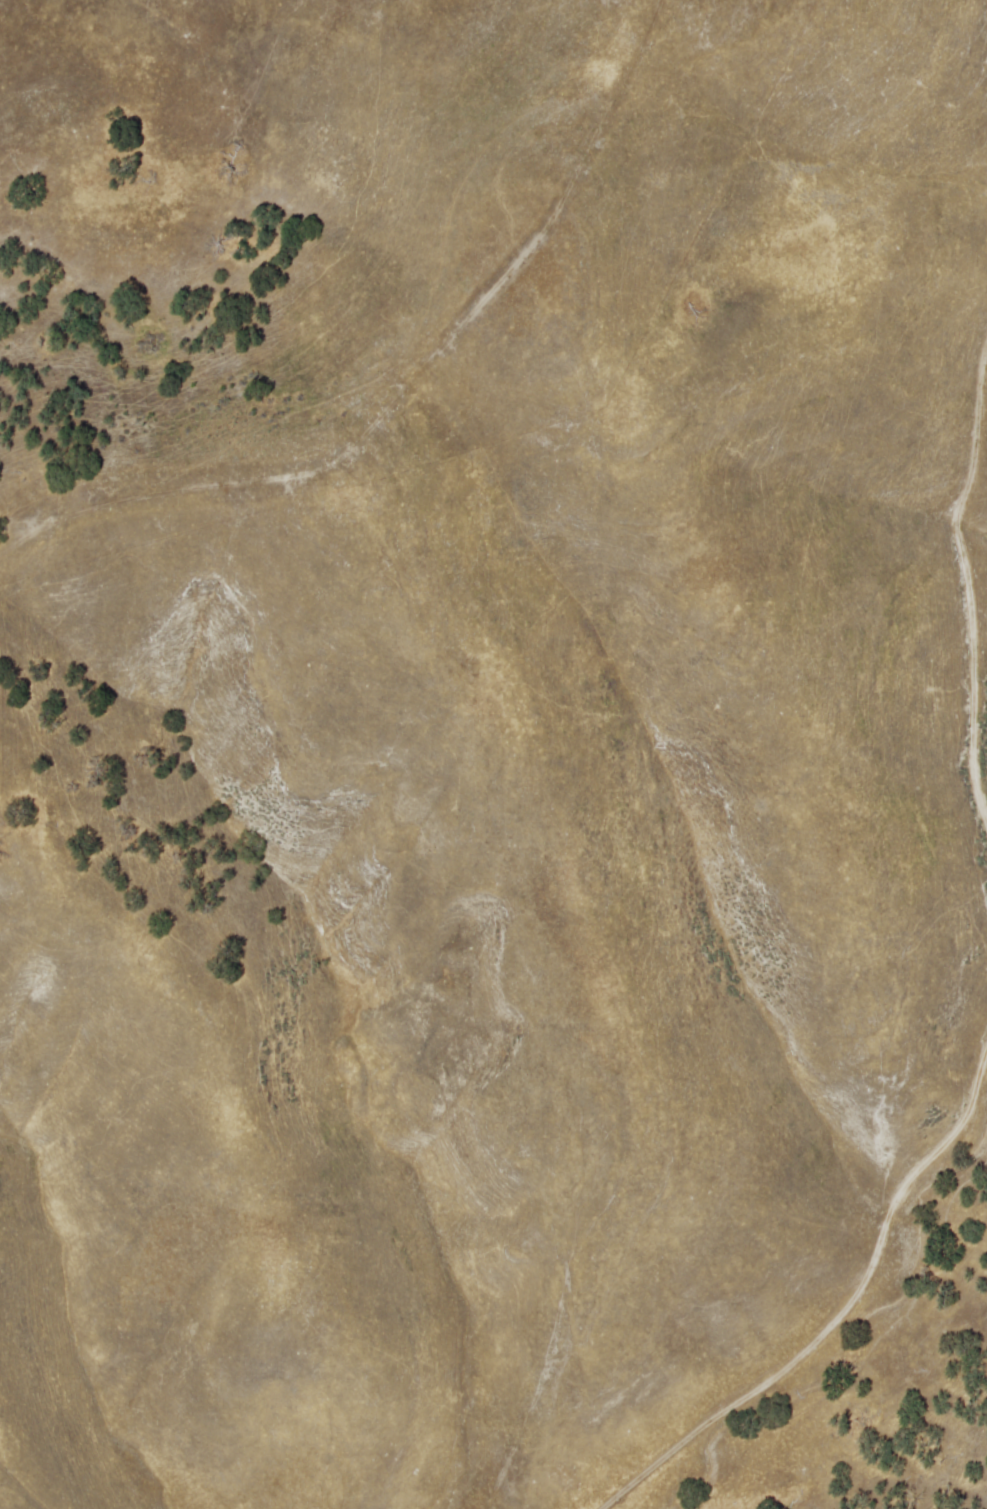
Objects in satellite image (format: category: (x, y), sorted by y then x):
road: (968, 580)
road: (843, 1311)

